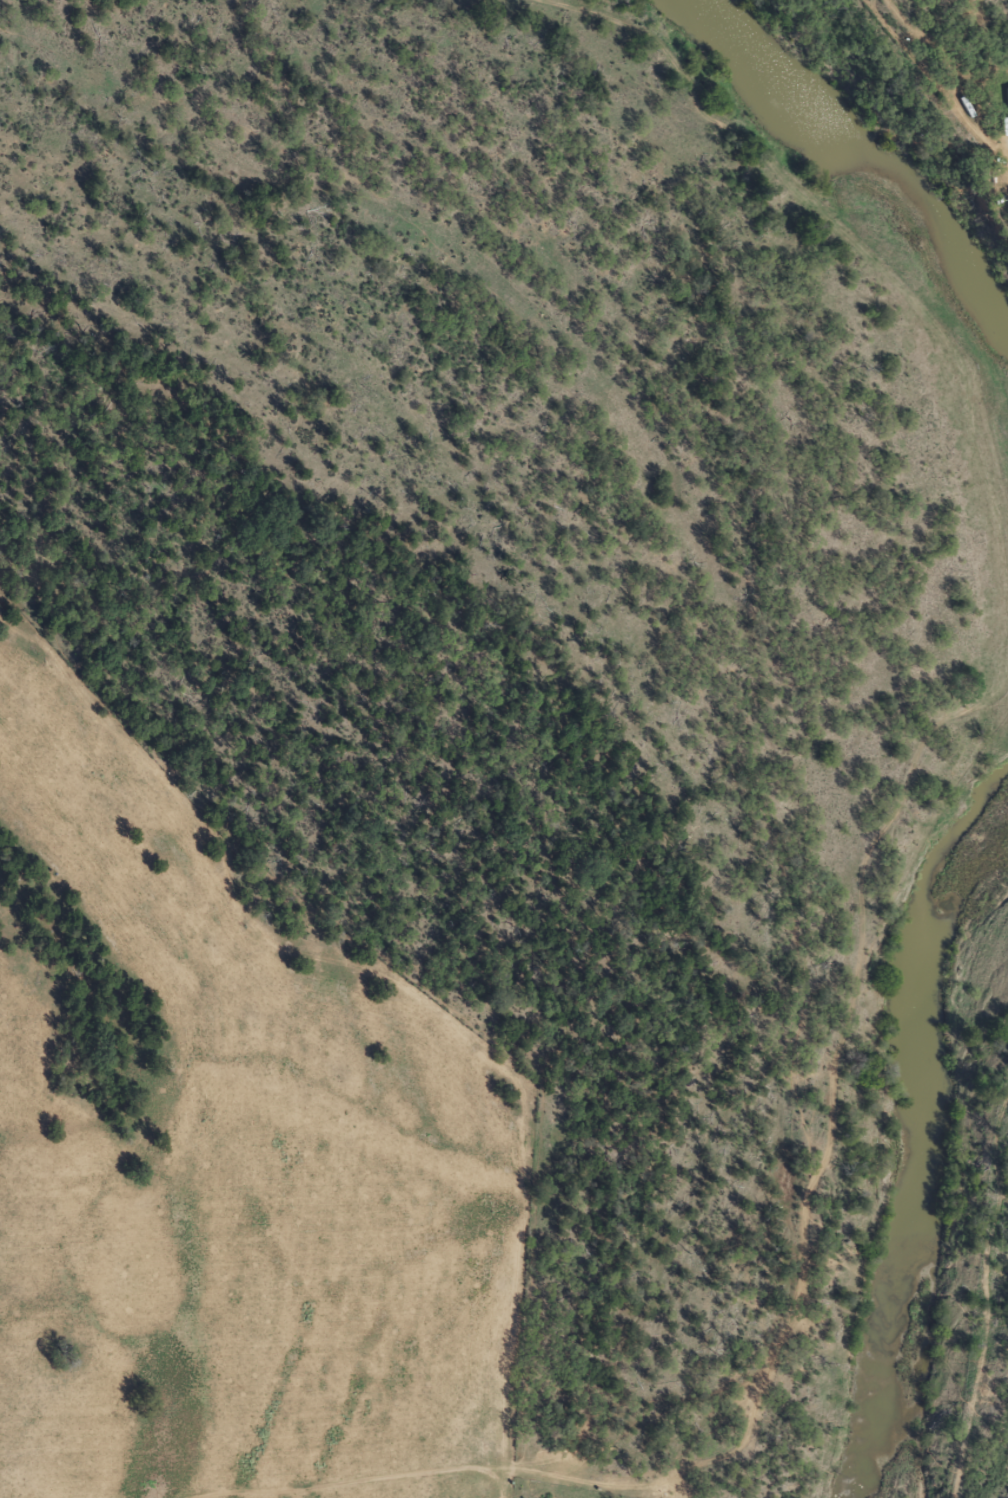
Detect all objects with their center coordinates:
river: (854, 151)
river: (923, 1140)

